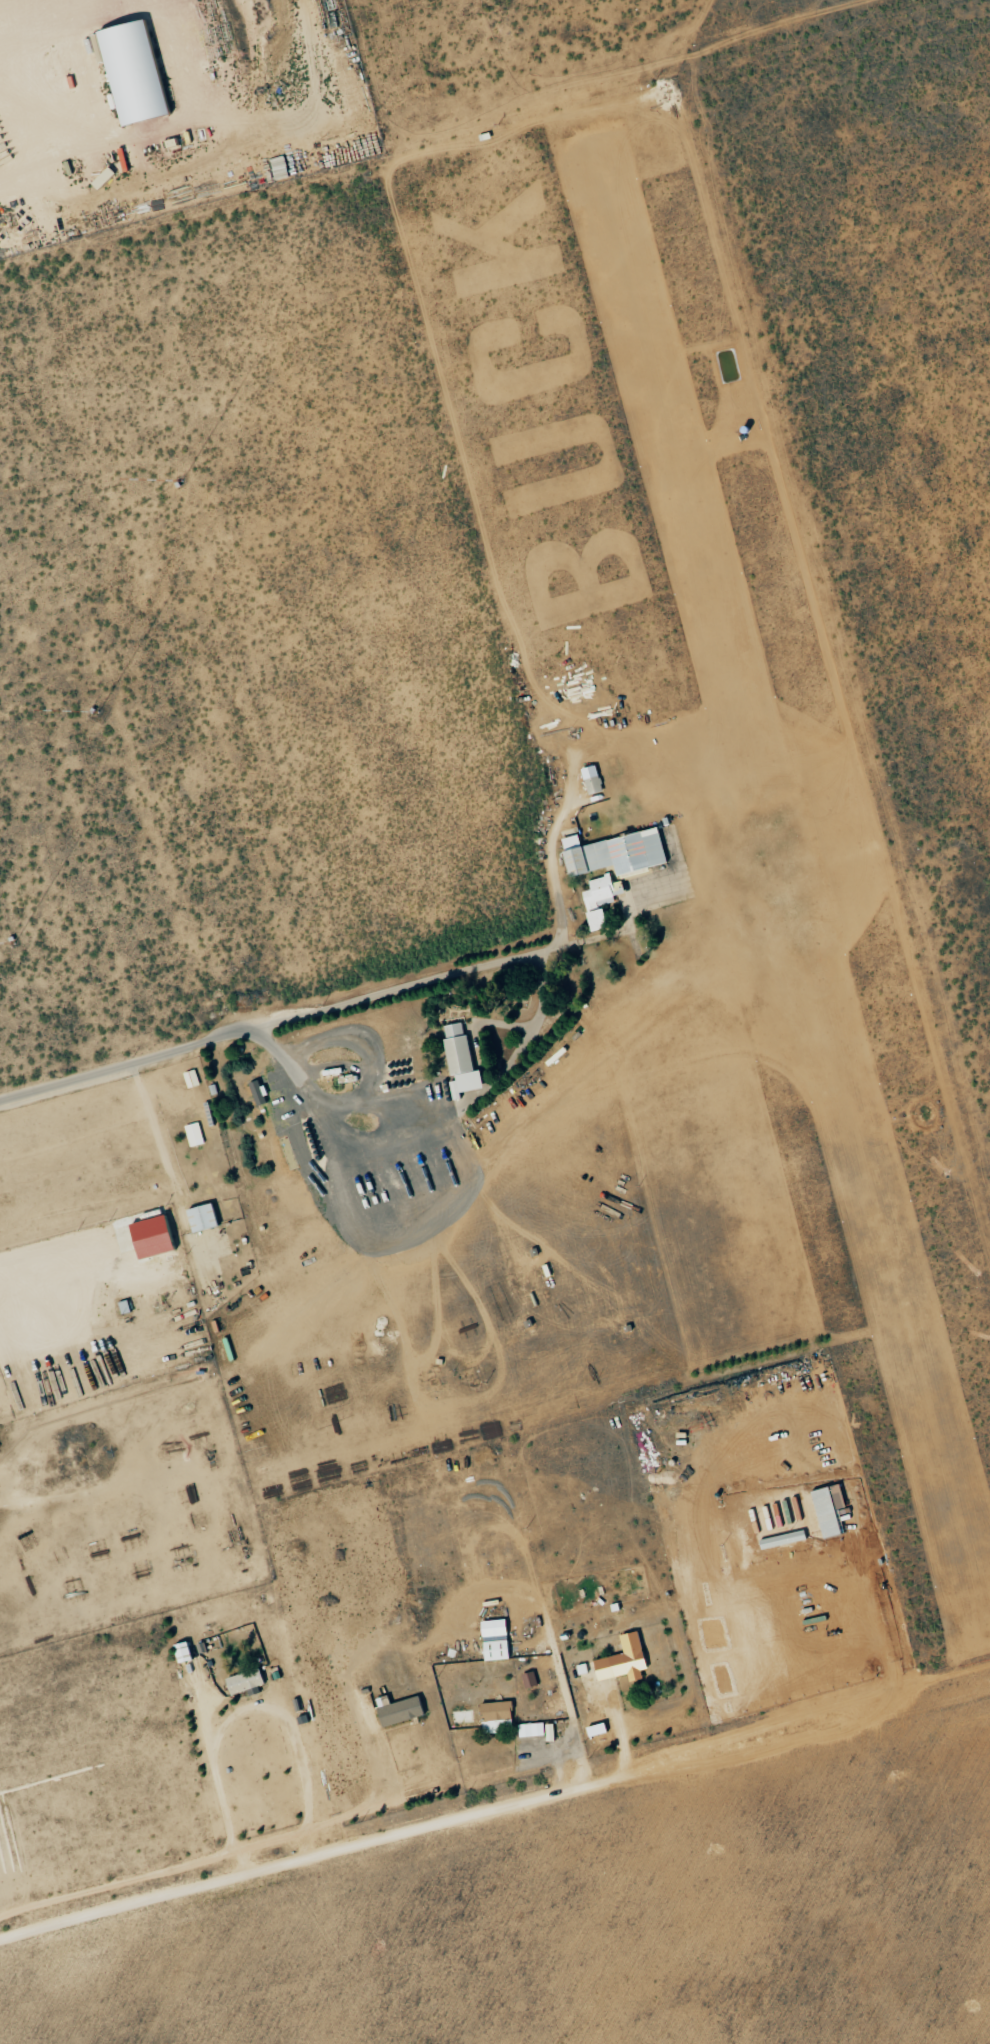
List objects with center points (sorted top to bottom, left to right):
building: (138, 70)
road: (482, 131)
building: (596, 783)
building: (620, 853)
building: (603, 901)
road: (317, 1012)
building: (464, 1061)
building: (193, 1078)
road: (320, 1101)
building: (196, 1134)
building: (207, 1218)
building: (159, 1237)
road: (80, 1284)
building: (127, 1307)
building: (833, 1509)
building: (499, 1639)
building: (628, 1659)
building: (532, 1679)
building: (249, 1680)
building: (405, 1710)
building: (500, 1716)
building: (534, 1729)
building: (553, 1732)
road: (420, 1824)

